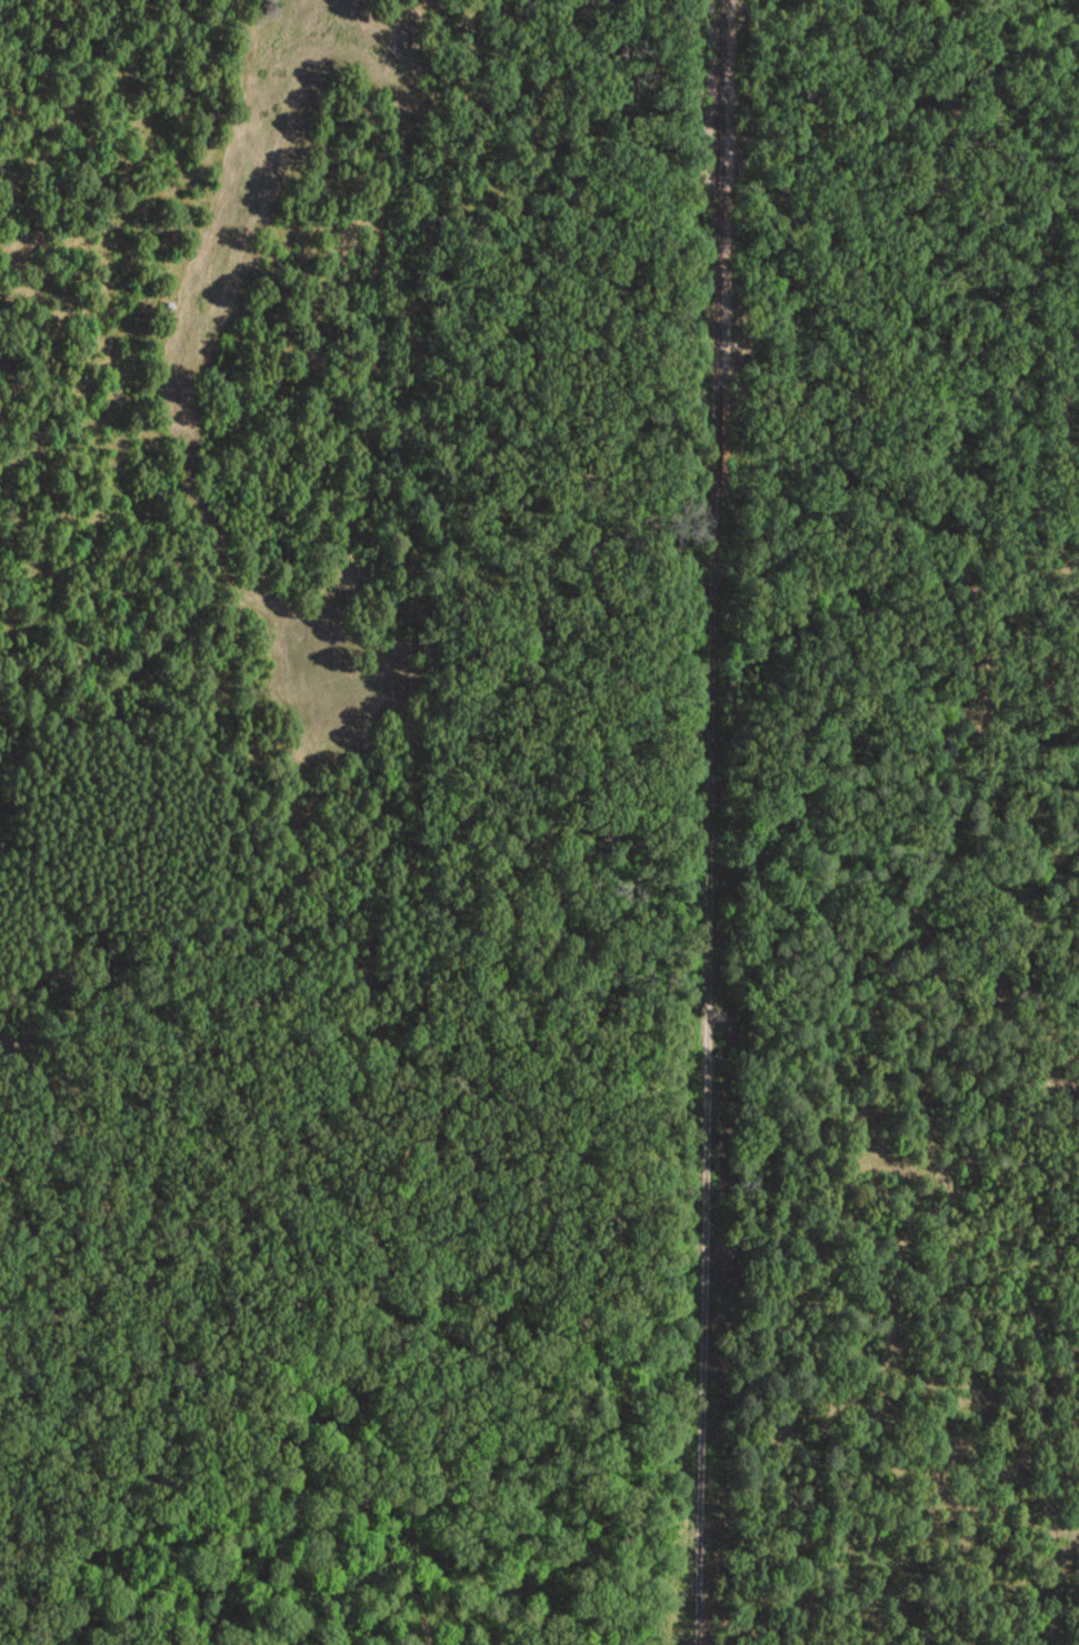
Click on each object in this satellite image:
road: (716, 451)
road: (703, 1274)

